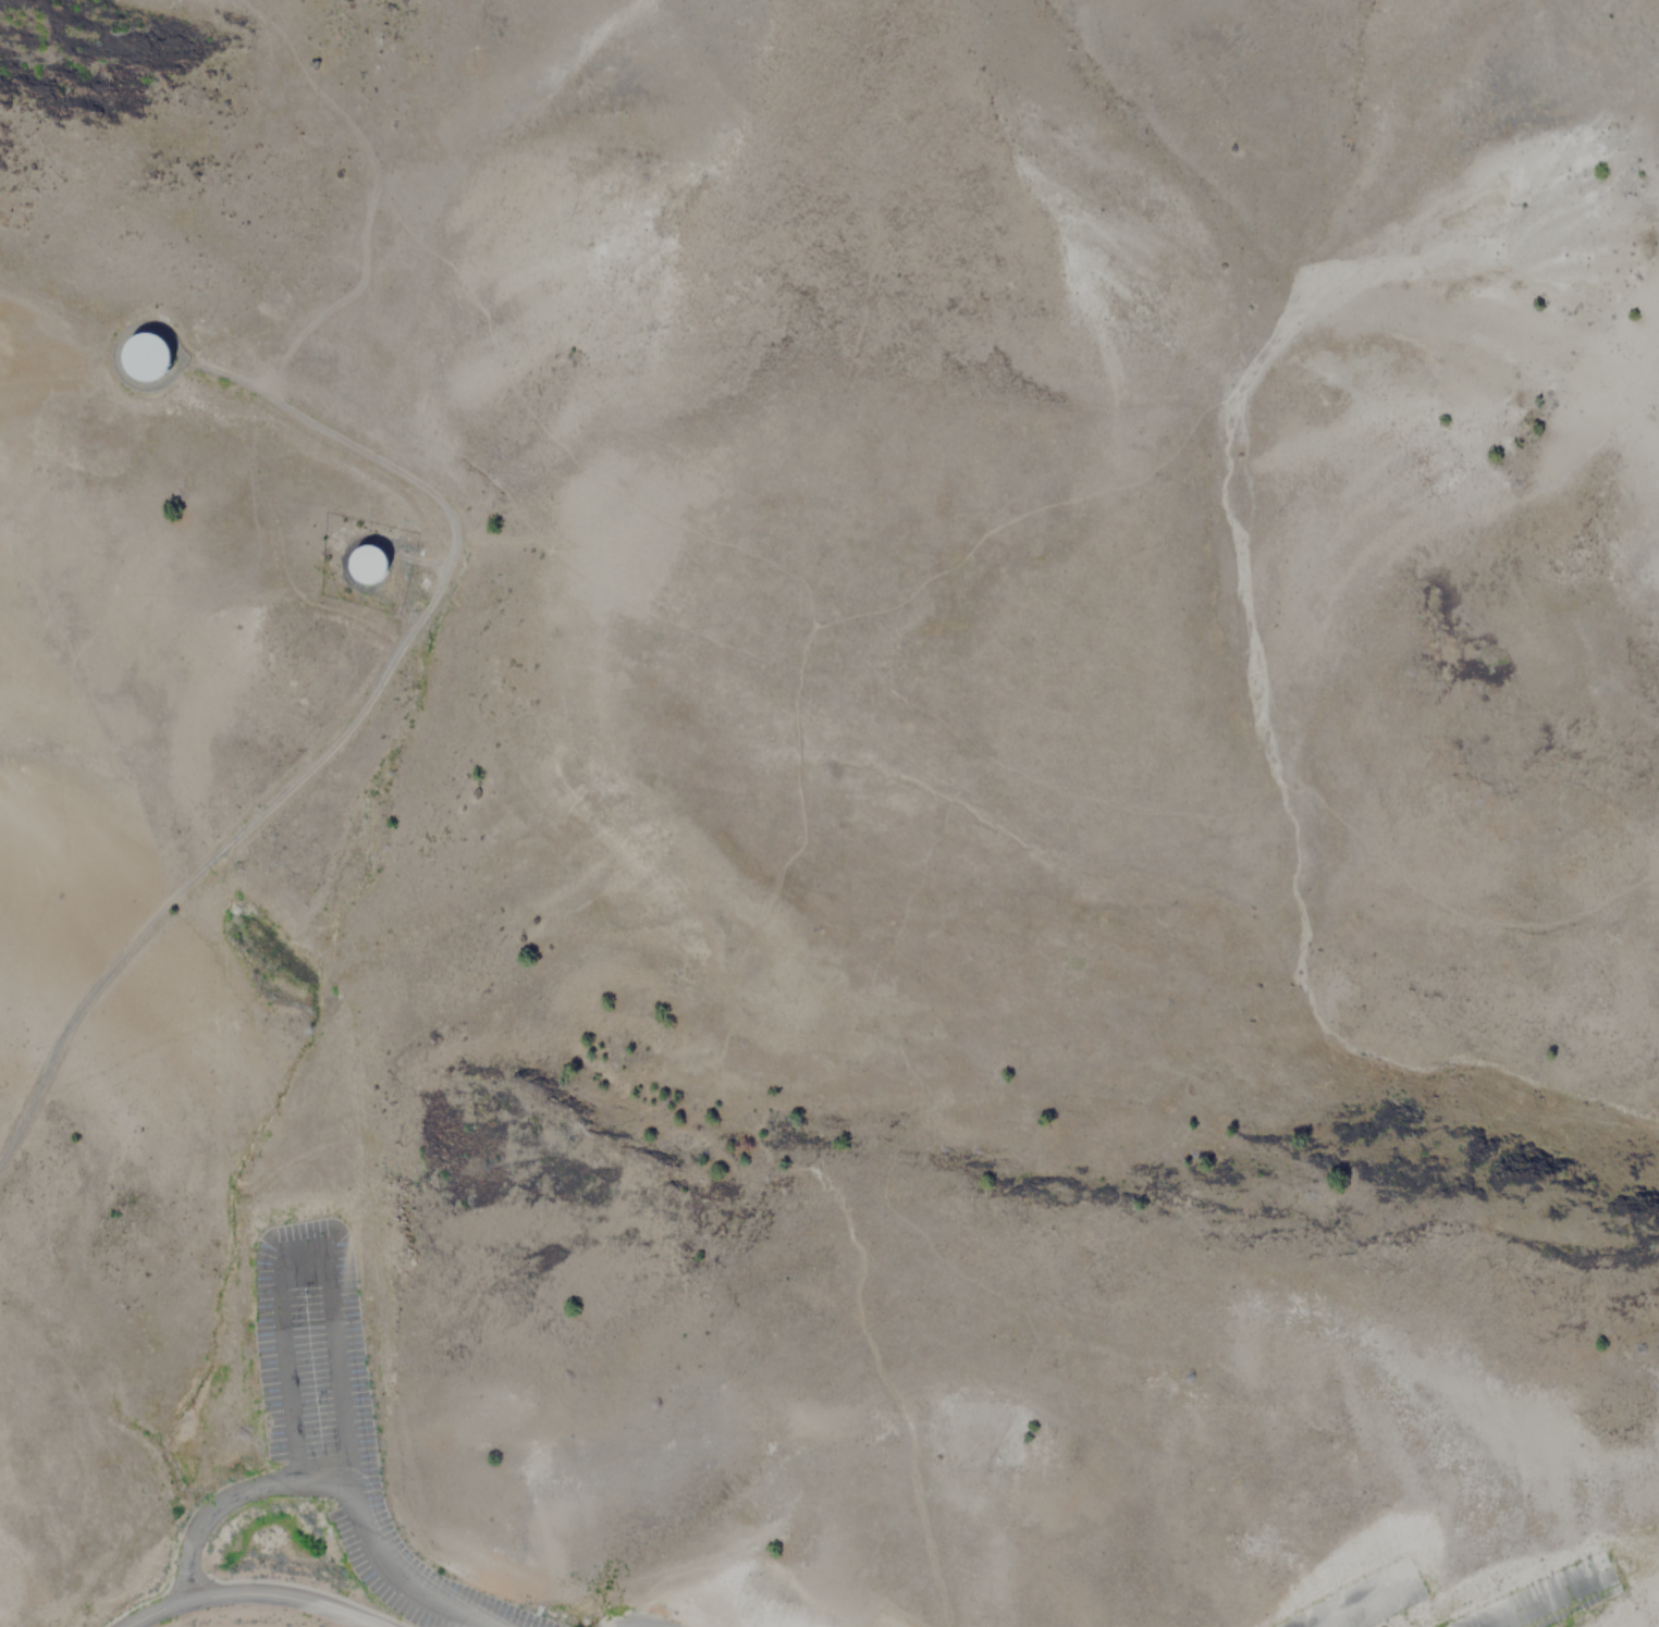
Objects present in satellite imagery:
road: (1297, 319)
road: (111, 354)
building: (147, 356)
road: (493, 357)
building: (367, 565)
road: (339, 729)
road: (937, 822)
road: (742, 1149)
road: (88, 1414)
parking lot: (340, 1419)
parking lot: (1570, 1574)
road: (255, 1601)

